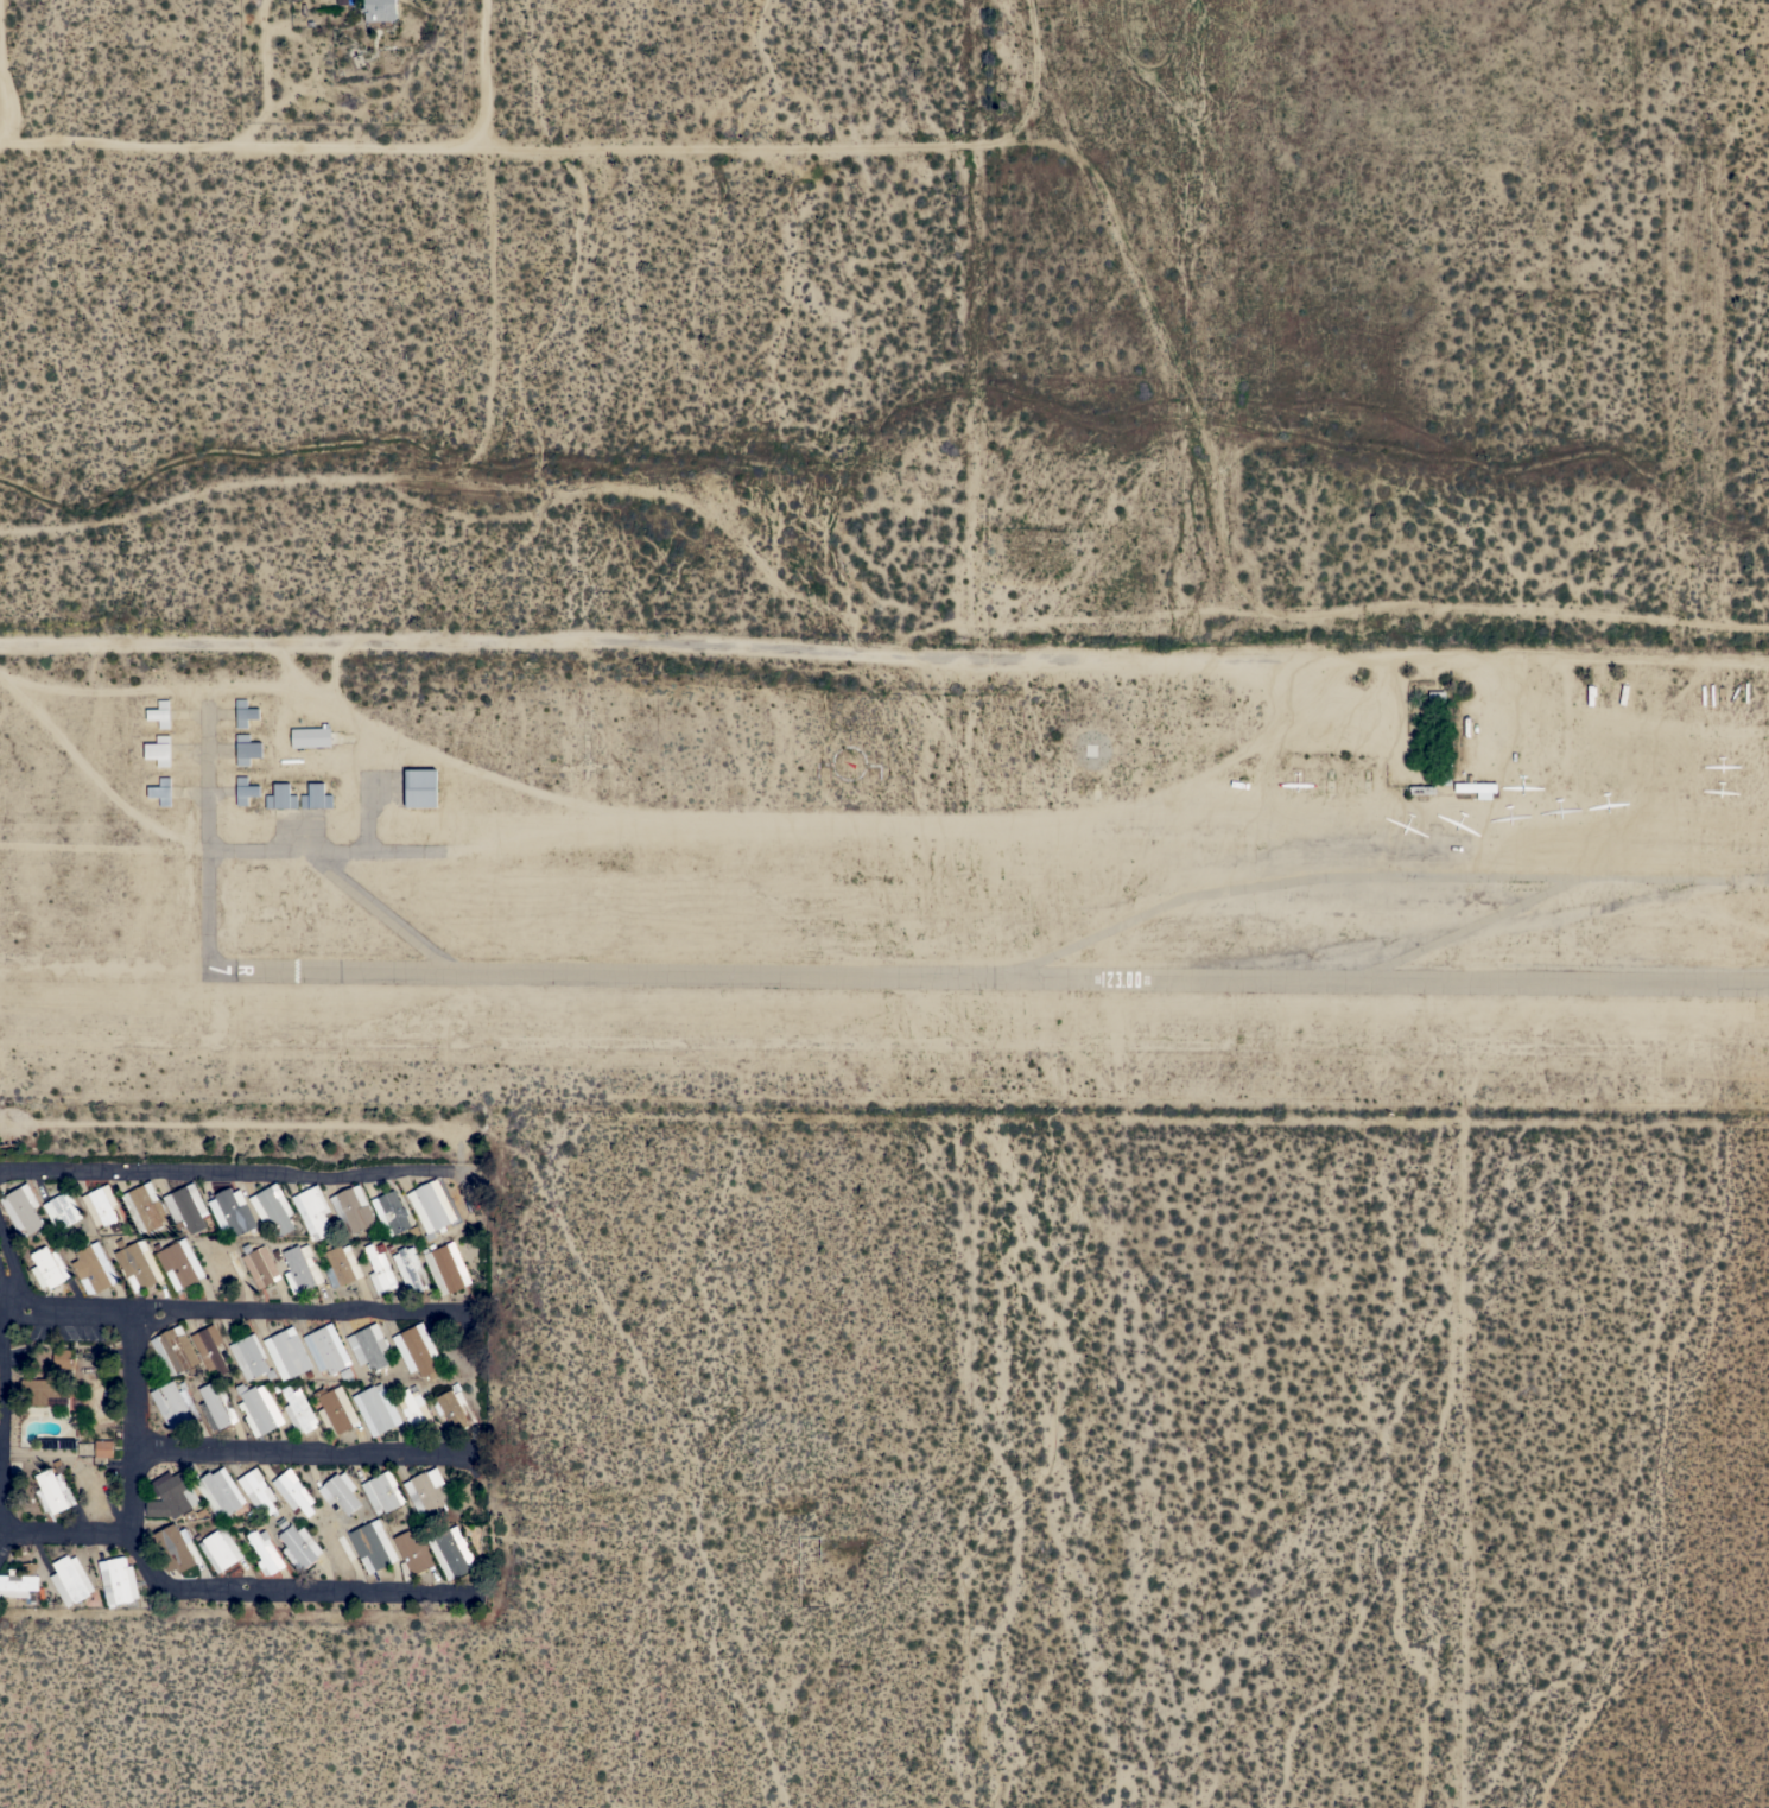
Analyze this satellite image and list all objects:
building: (379, 9)
road: (4, 70)
road: (489, 72)
road: (268, 74)
road: (535, 145)
road: (1154, 322)
road: (1480, 602)
road: (594, 640)
building: (159, 713)
building: (243, 713)
building: (310, 736)
building: (246, 749)
building: (158, 750)
building: (1441, 770)
building: (1478, 786)
building: (419, 787)
building: (245, 789)
building: (1422, 789)
building: (160, 791)
building: (280, 797)
building: (315, 797)
airport apron: (329, 835)
airport: (886, 877)
airport runway: (991, 977)
road: (233, 1168)
building: (99, 1205)
building: (144, 1206)
building: (430, 1206)
building: (185, 1207)
building: (272, 1208)
building: (21, 1210)
building: (61, 1210)
building: (351, 1210)
building: (232, 1211)
building: (312, 1211)
building: (389, 1213)
building: (178, 1262)
building: (138, 1263)
building: (259, 1265)
building: (341, 1265)
building: (49, 1267)
building: (93, 1267)
building: (222, 1267)
building: (445, 1267)
building: (300, 1268)
building: (380, 1268)
building: (410, 1269)
road: (9, 1274)
road: (237, 1306)
building: (368, 1346)
building: (209, 1349)
building: (326, 1349)
building: (416, 1350)
building: (173, 1351)
building: (286, 1353)
building: (249, 1357)
building: (61, 1358)
building: (43, 1389)
building: (175, 1406)
building: (216, 1406)
building: (258, 1408)
building: (376, 1409)
building: (298, 1410)
building: (335, 1410)
building: (414, 1410)
building: (452, 1410)
road: (2, 1415)
road: (132, 1416)
road: (1, 1442)
building: (57, 1444)
building: (102, 1448)
road: (304, 1451)
building: (53, 1489)
building: (256, 1490)
building: (96, 1491)
building: (292, 1491)
building: (383, 1491)
building: (220, 1492)
building: (340, 1492)
building: (427, 1493)
building: (171, 1495)
building: (372, 1546)
building: (298, 1547)
building: (176, 1548)
building: (218, 1548)
building: (338, 1550)
building: (265, 1552)
building: (451, 1552)
building: (413, 1553)
building: (69, 1580)
building: (116, 1580)
building: (21, 1584)
road: (217, 1590)

